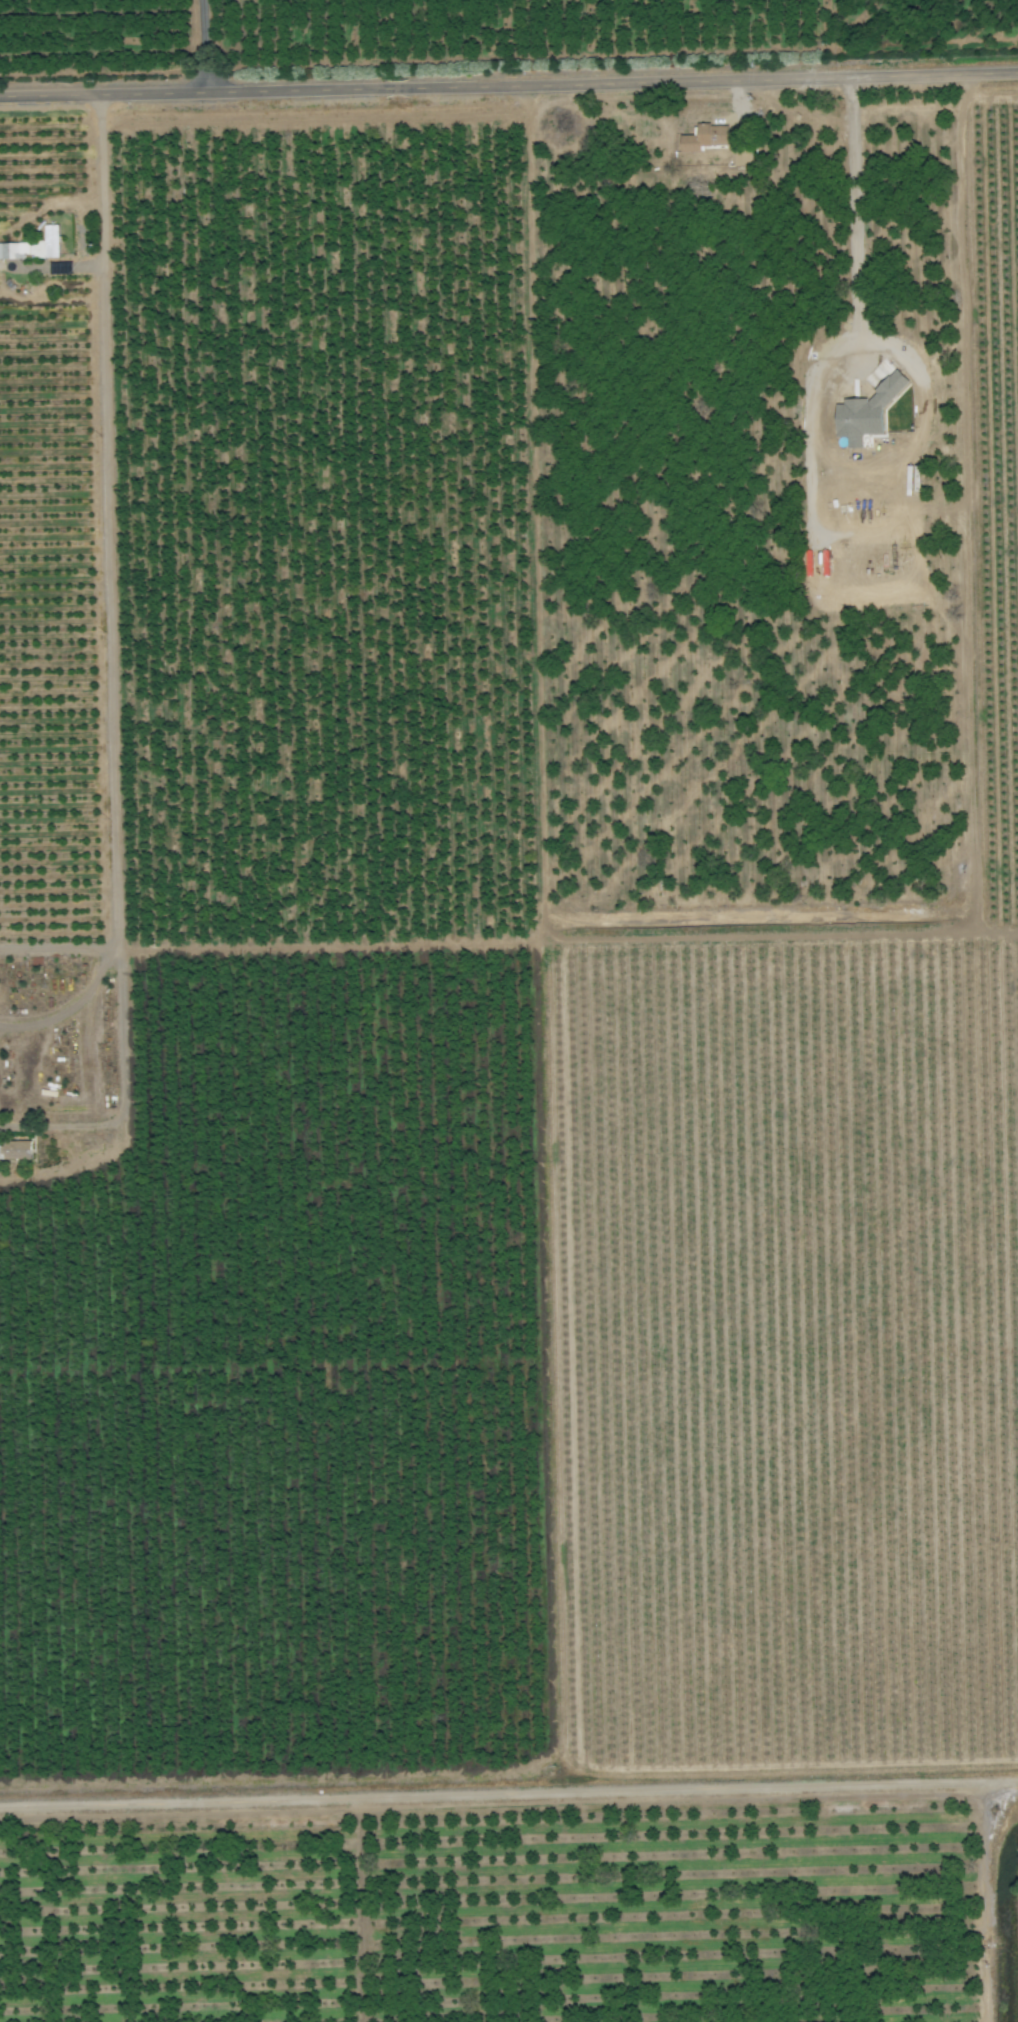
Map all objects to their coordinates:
road: (199, 45)
road: (509, 83)
building: (738, 157)
road: (847, 208)
building: (53, 240)
building: (15, 249)
road: (113, 607)
building: (20, 1149)

